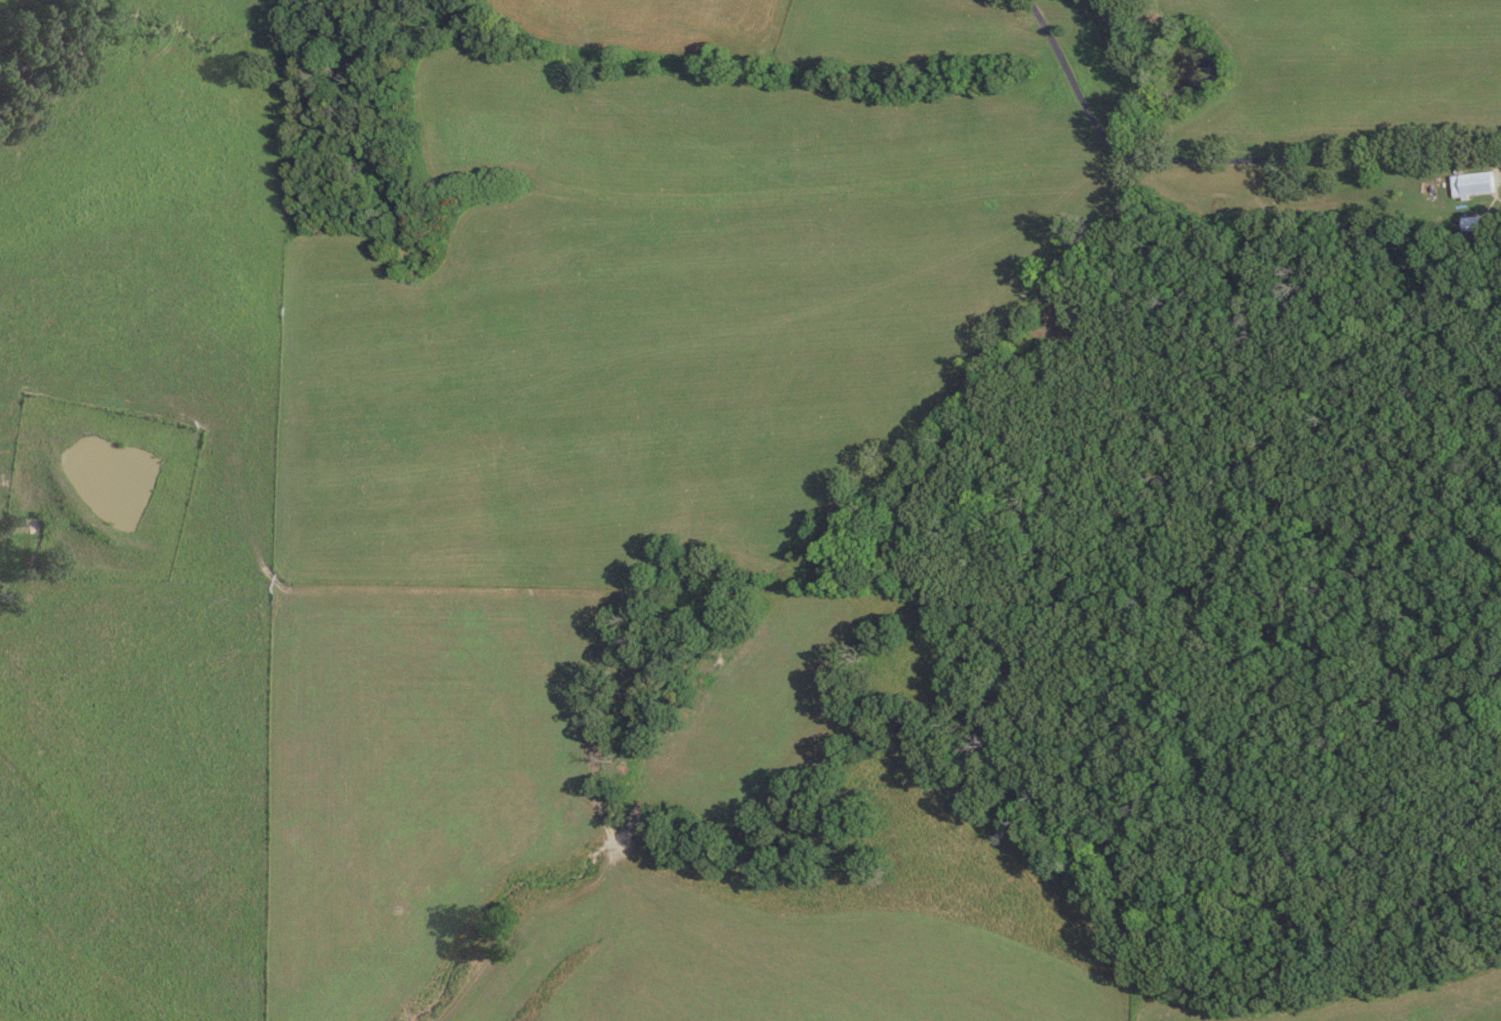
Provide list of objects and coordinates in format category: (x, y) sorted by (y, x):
road: (1220, 158)
building: (1473, 183)
building: (1473, 222)

